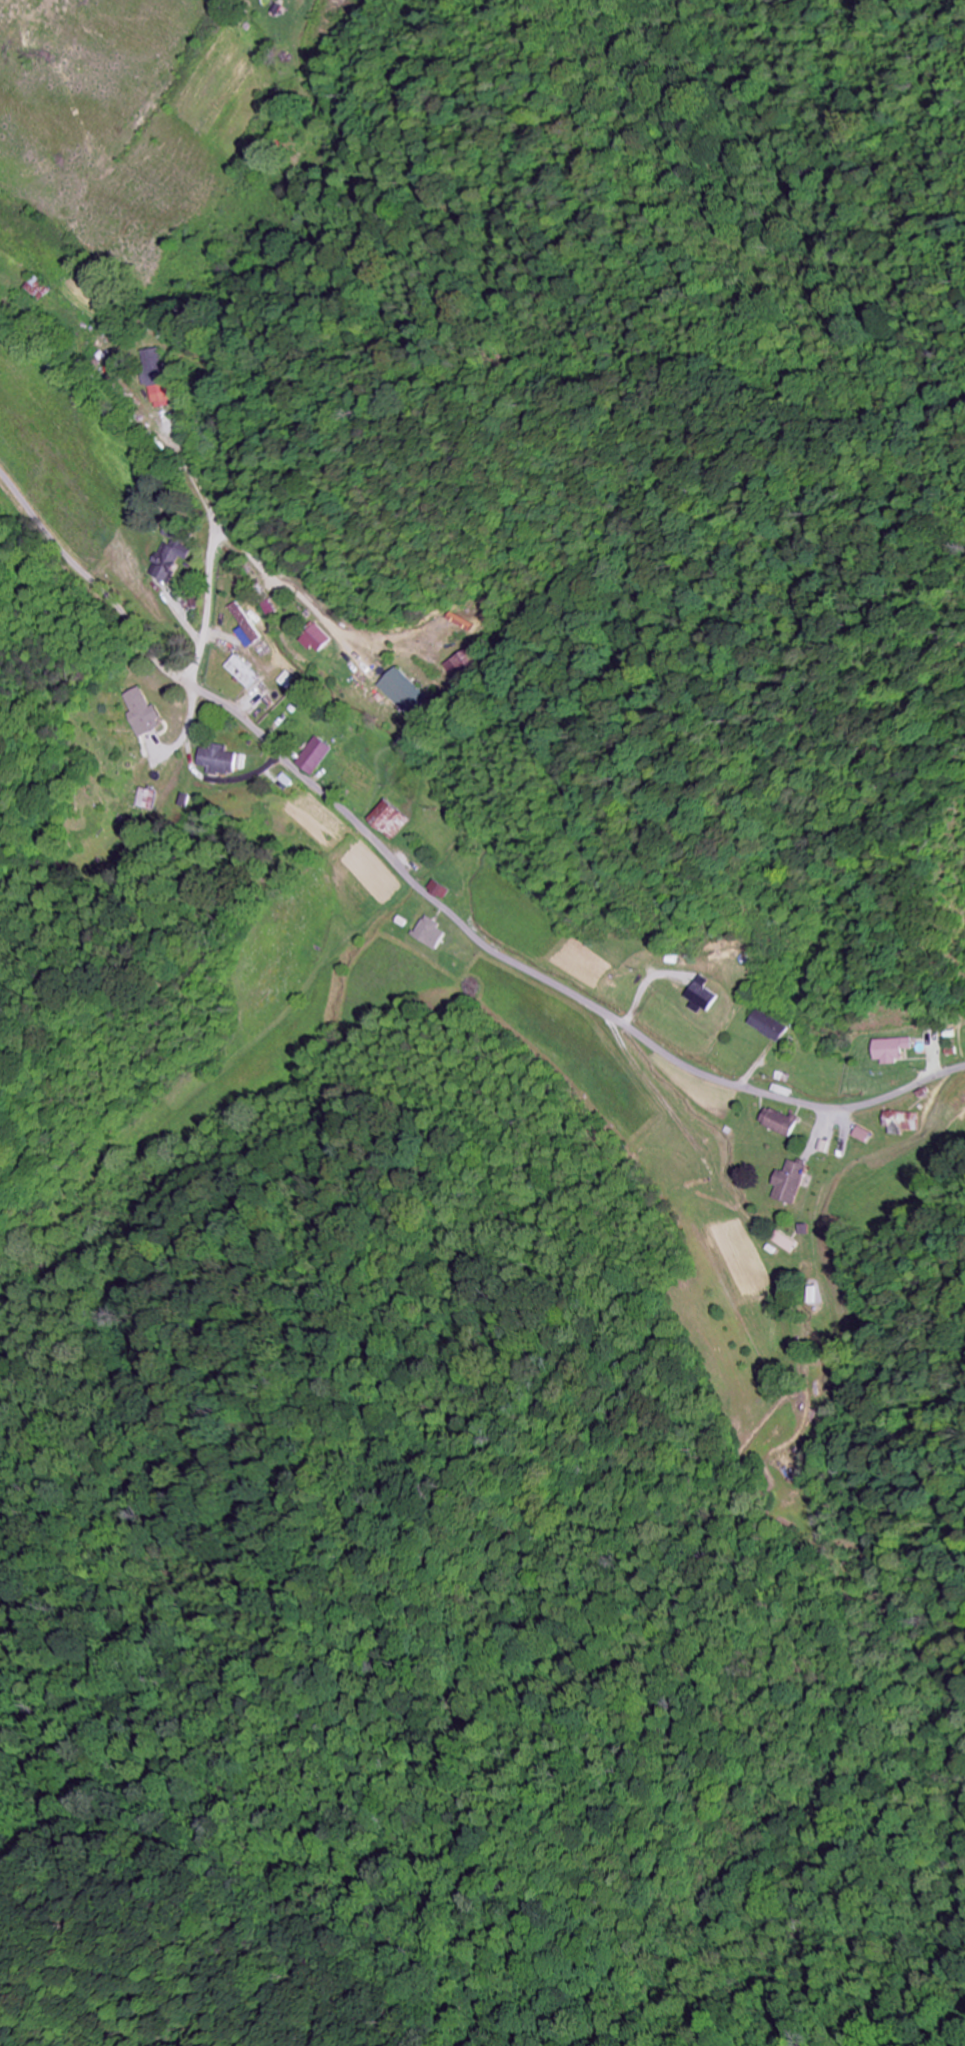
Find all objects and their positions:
building: (40, 288)
building: (156, 377)
building: (174, 550)
building: (274, 607)
building: (250, 621)
building: (323, 638)
building: (467, 664)
building: (246, 671)
building: (408, 691)
building: (145, 712)
building: (317, 755)
building: (219, 759)
building: (146, 798)
building: (393, 819)
building: (442, 889)
road: (428, 891)
building: (432, 932)
building: (704, 996)
building: (770, 1026)
building: (891, 1049)
building: (781, 1123)
building: (789, 1185)
building: (784, 1240)

